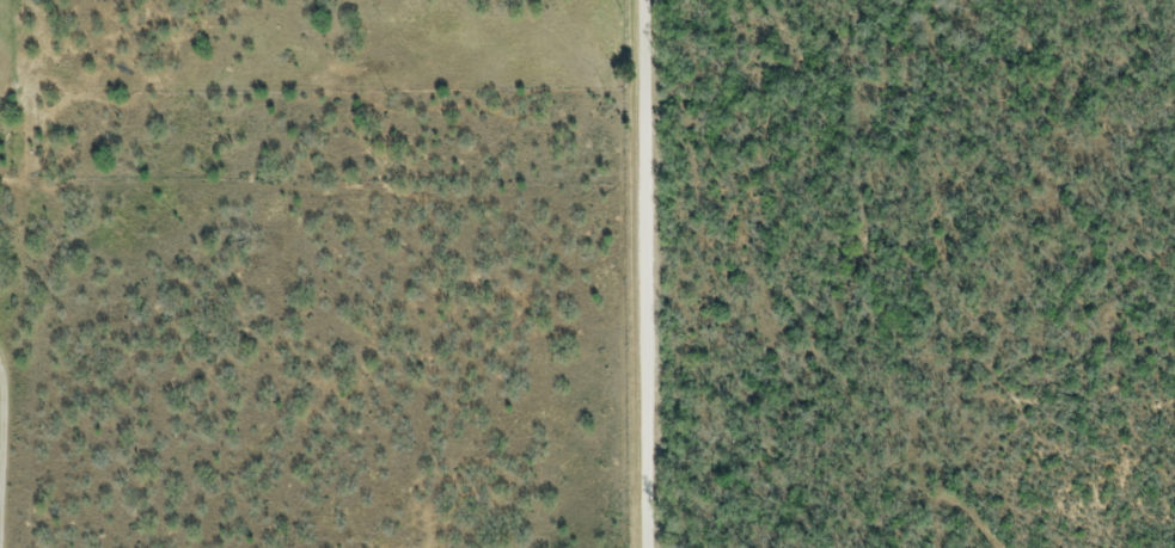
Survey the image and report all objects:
road: (645, 273)

